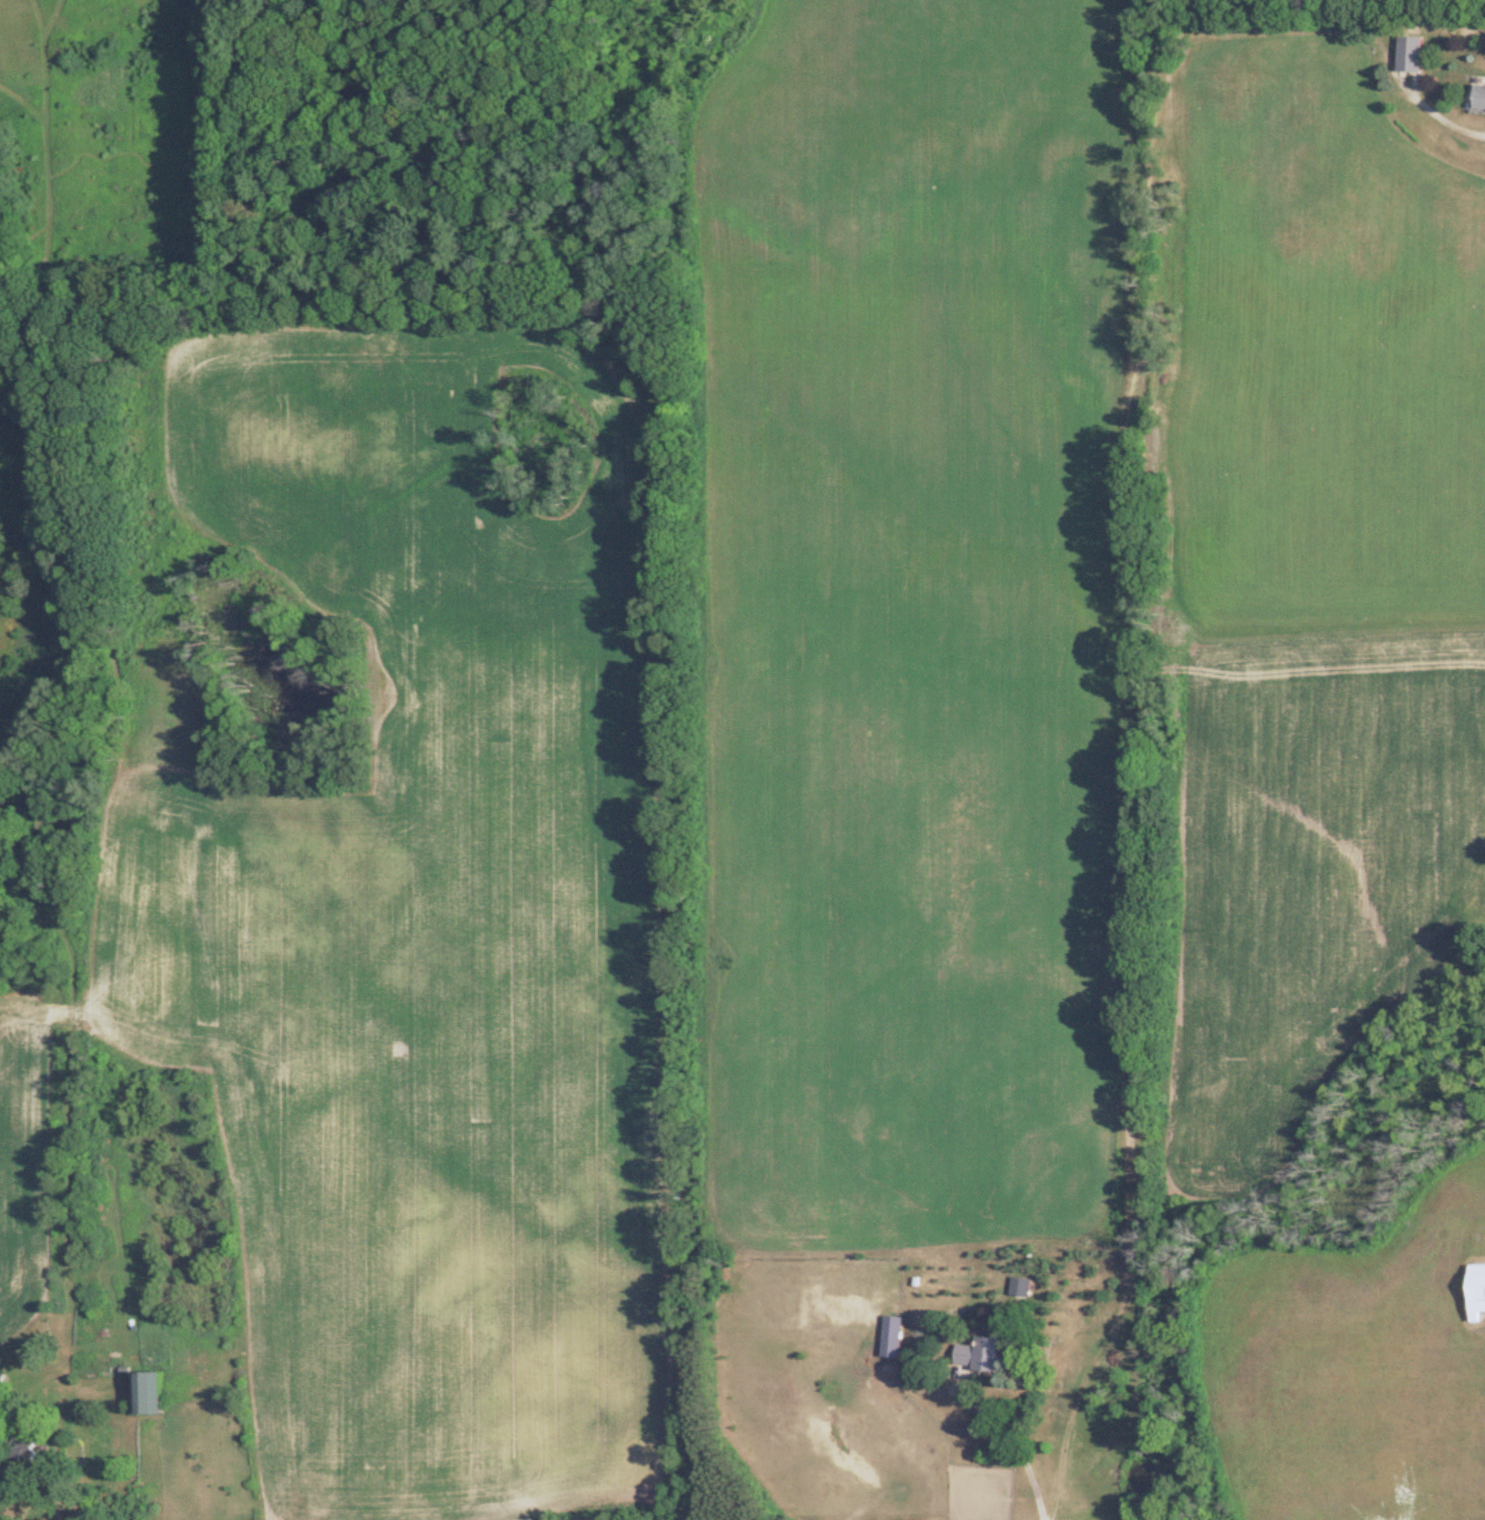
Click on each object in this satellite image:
building: (1405, 55)
building: (1476, 97)
road: (1448, 116)
building: (1474, 1291)
building: (889, 1337)
building: (976, 1355)
road: (1021, 1440)

